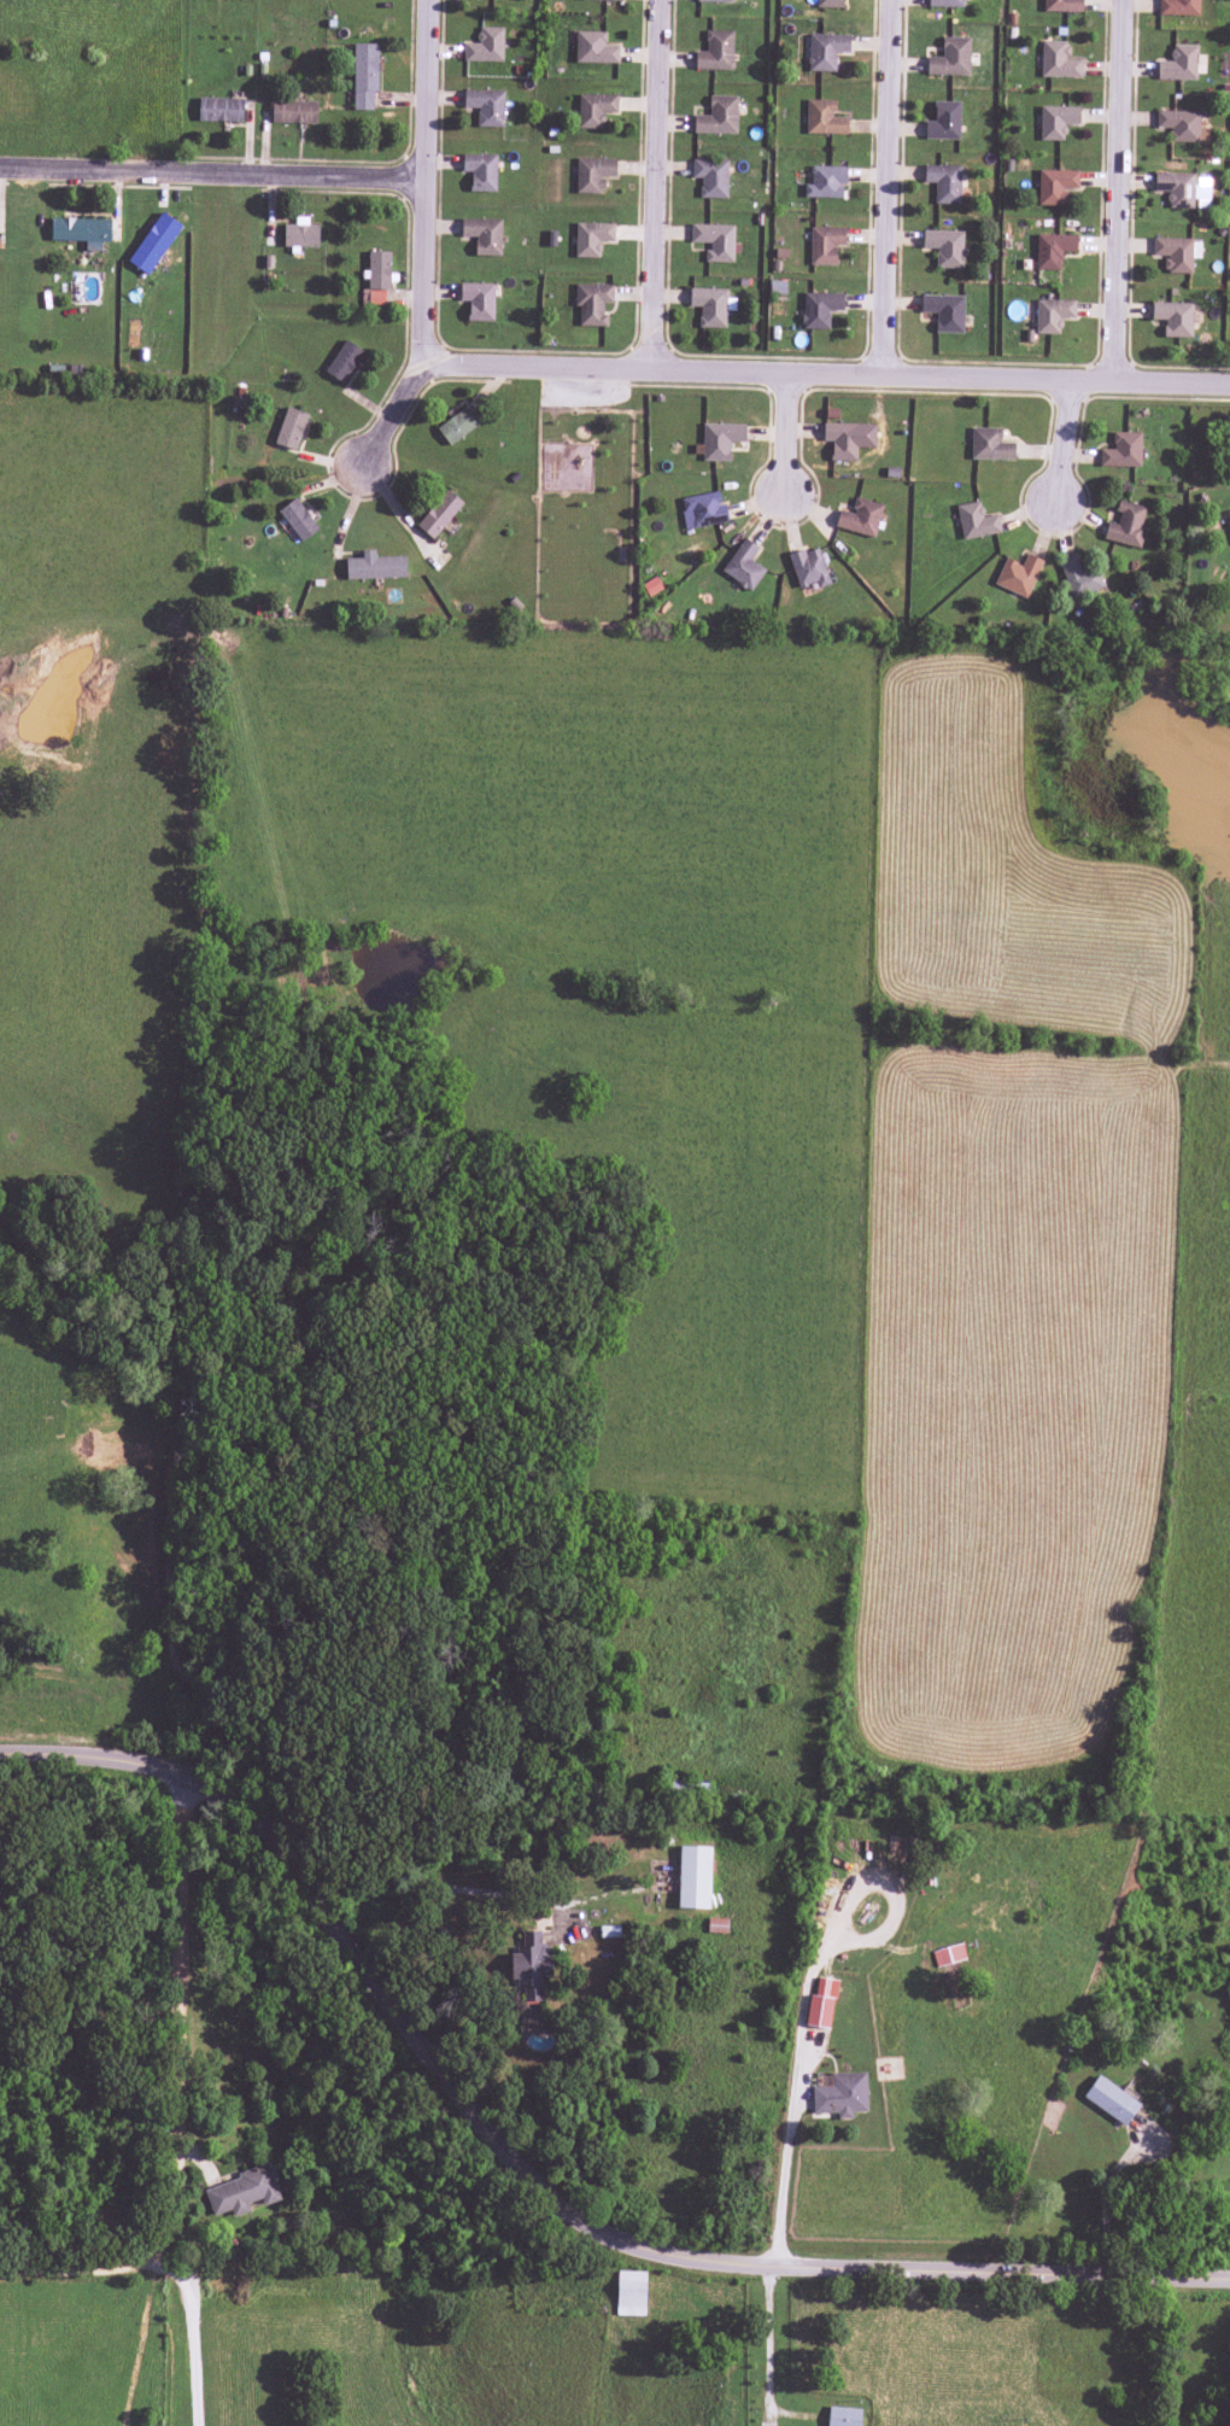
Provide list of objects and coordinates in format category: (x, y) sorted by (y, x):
building: (610, 0)
building: (715, 0)
building: (945, 2)
building: (828, 4)
building: (1062, 5)
building: (1178, 7)
building: (485, 46)
building: (593, 48)
building: (715, 51)
building: (825, 51)
building: (950, 58)
building: (1058, 60)
building: (1178, 64)
building: (364, 75)
building: (486, 106)
building: (594, 109)
building: (219, 110)
building: (293, 112)
building: (717, 116)
building: (824, 118)
building: (943, 121)
building: (1056, 121)
building: (1178, 124)
building: (480, 171)
road: (212, 173)
building: (592, 174)
building: (710, 177)
road: (426, 180)
building: (825, 182)
building: (944, 182)
road: (643, 185)
building: (1055, 186)
road: (894, 188)
building: (1183, 189)
road: (1123, 193)
building: (81, 232)
building: (300, 234)
building: (482, 235)
building: (591, 238)
building: (714, 241)
building: (153, 244)
building: (824, 245)
building: (944, 247)
building: (1052, 250)
building: (1176, 253)
building: (379, 270)
building: (376, 297)
building: (478, 300)
building: (592, 303)
building: (709, 306)
building: (819, 309)
building: (944, 311)
building: (1052, 315)
building: (1173, 318)
building: (344, 362)
road: (828, 375)
road: (397, 414)
building: (457, 426)
building: (289, 428)
building: (720, 440)
building: (840, 440)
building: (989, 445)
road: (786, 451)
building: (1121, 451)
road: (1061, 455)
building: (702, 509)
building: (438, 514)
building: (1228, 516)
building: (860, 518)
building: (297, 520)
building: (976, 521)
building: (1126, 525)
building: (743, 566)
building: (375, 567)
building: (808, 568)
building: (1018, 575)
building: (1079, 578)
building: (693, 1877)
building: (948, 1956)
building: (531, 1964)
road: (803, 1989)
building: (821, 2004)
road: (176, 2092)
building: (840, 2095)
building: (1109, 2100)
road: (526, 2181)
building: (241, 2192)
building: (631, 2293)
road: (141, 2337)
building: (843, 2416)

